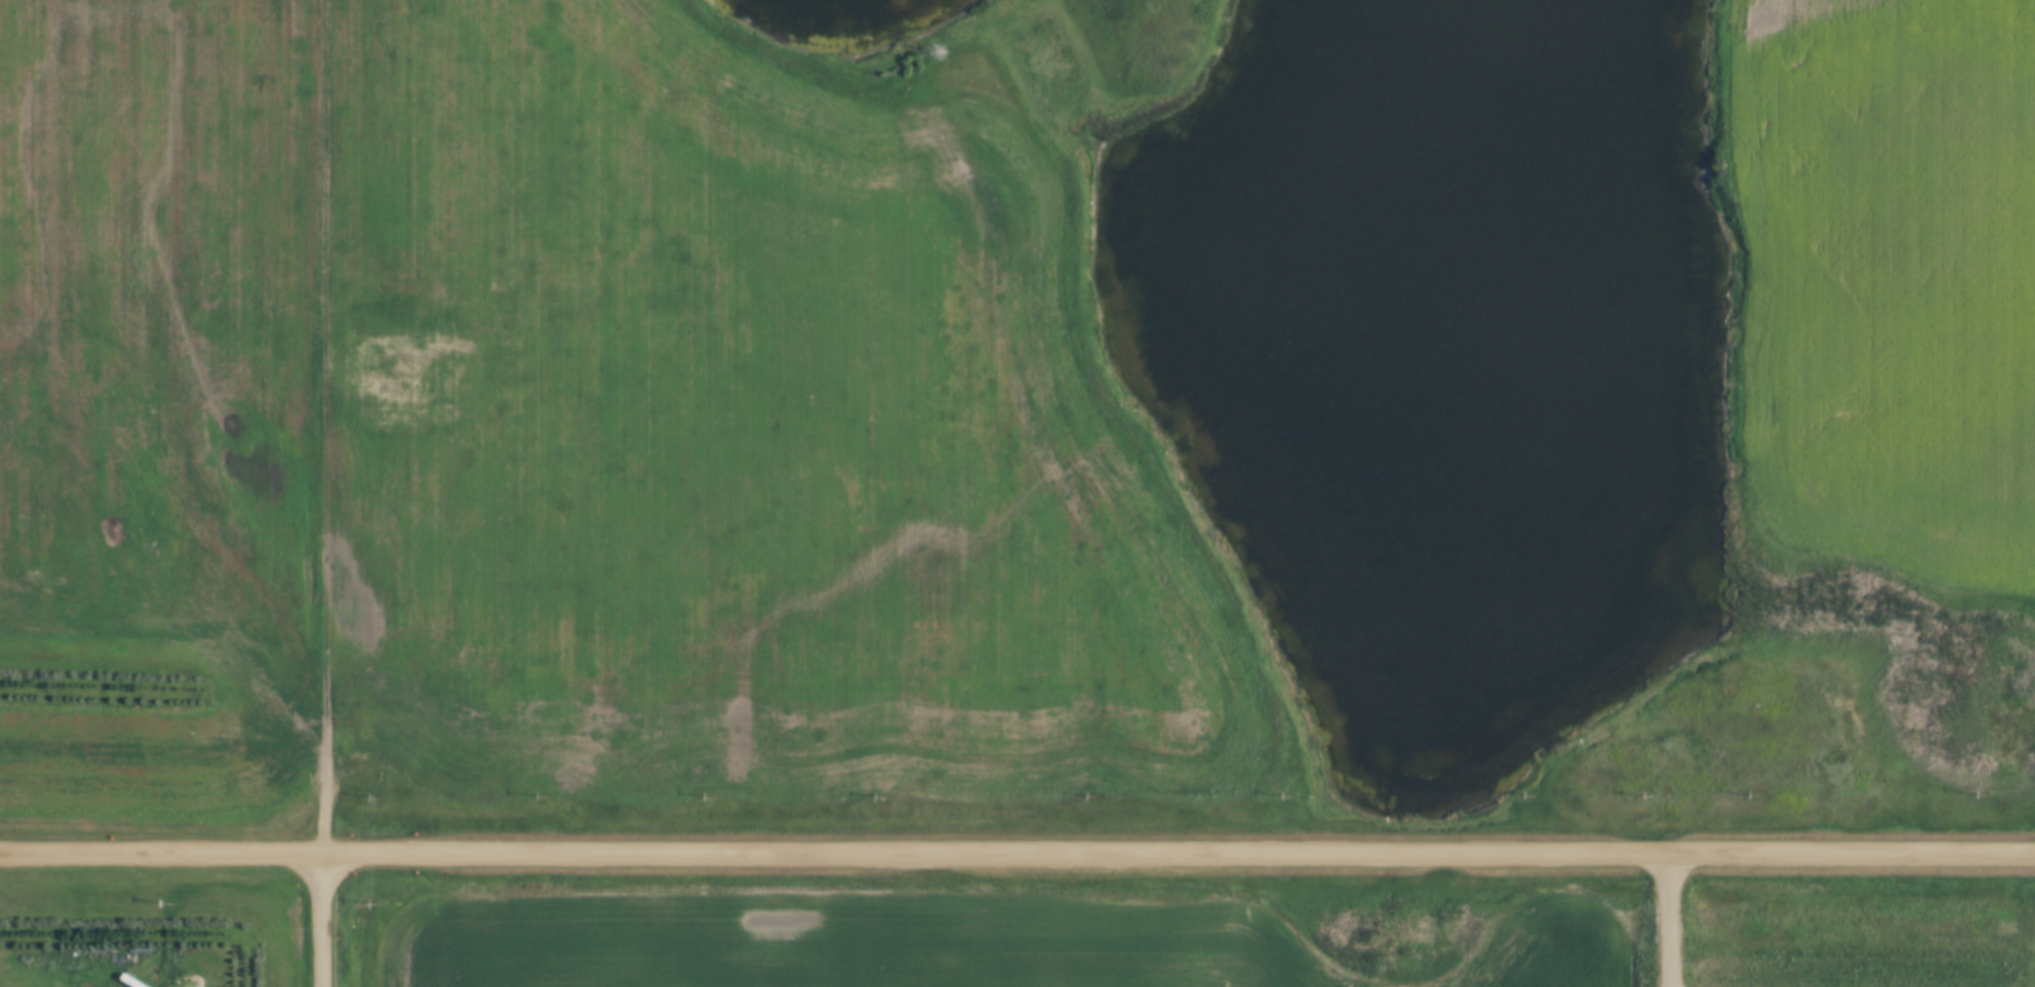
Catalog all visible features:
road: (326, 427)
road: (1017, 851)
road: (326, 920)

